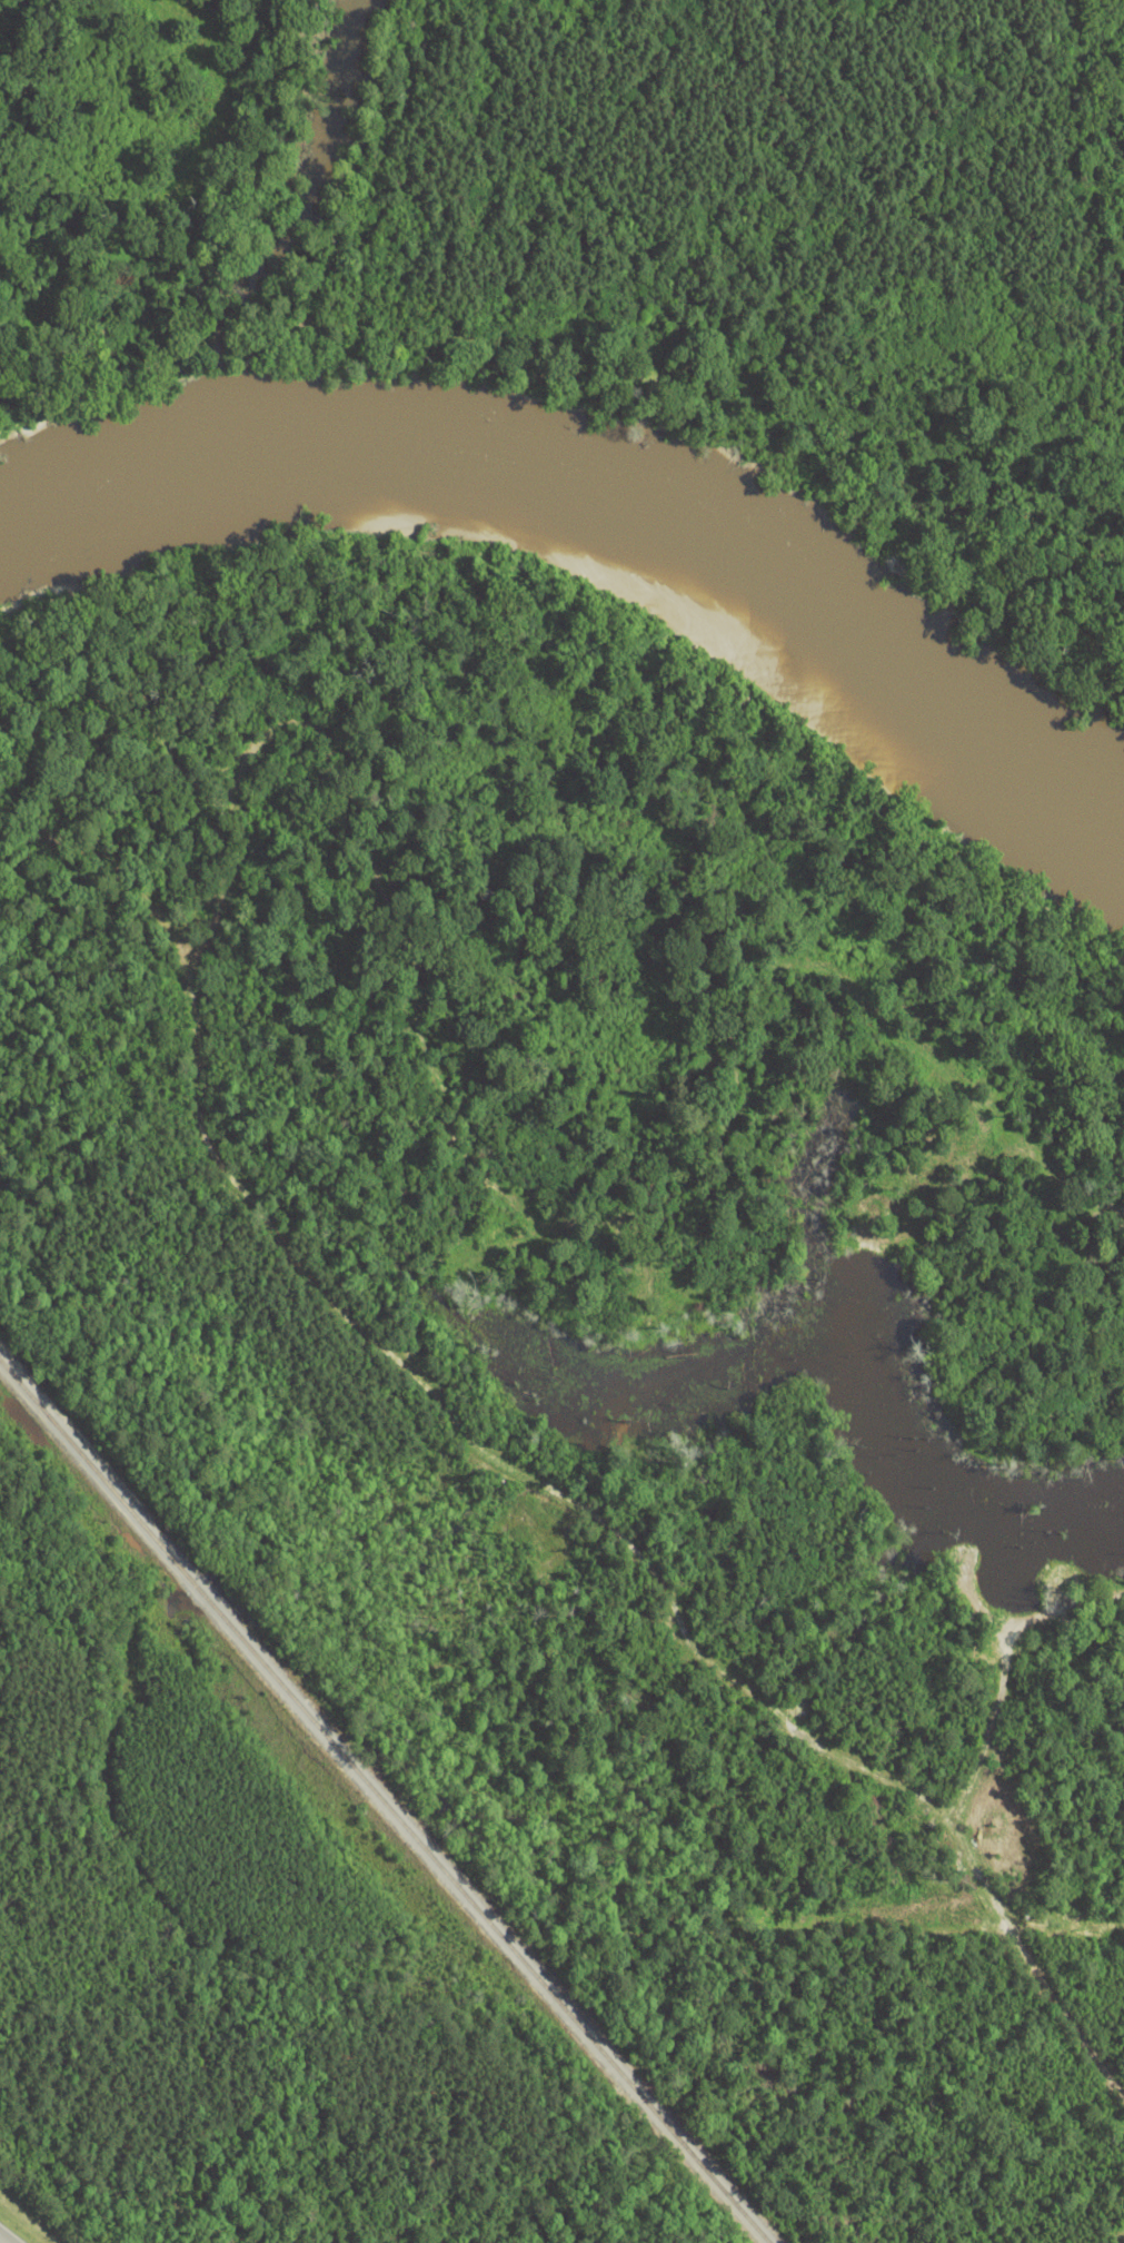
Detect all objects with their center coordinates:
river: (605, 497)
railway: (386, 1799)
road: (4, 2239)

